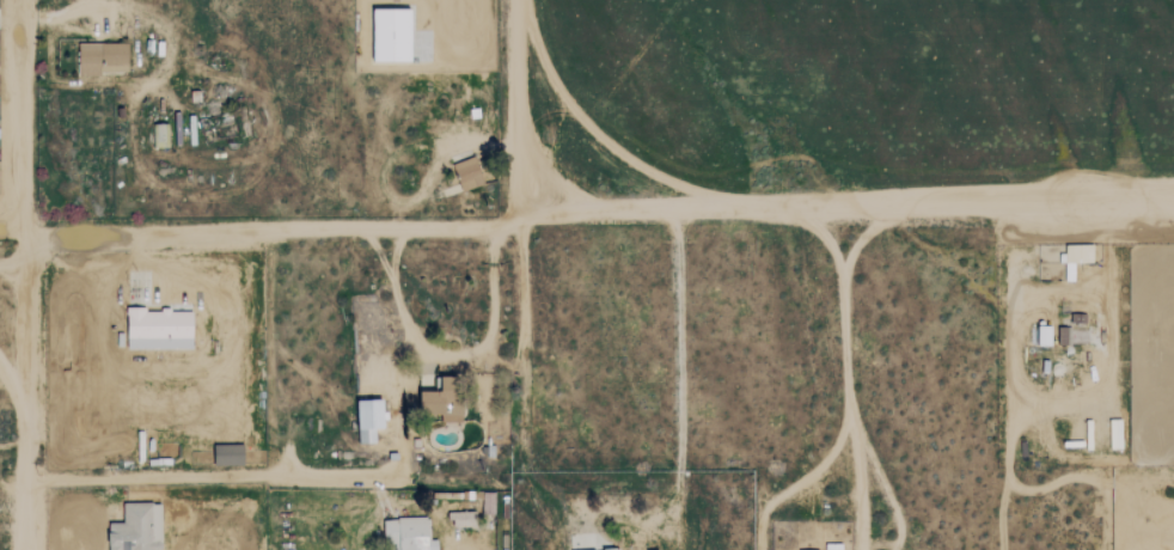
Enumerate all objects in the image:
road: (104, 7)
building: (393, 33)
building: (103, 57)
road: (527, 109)
building: (158, 134)
building: (469, 172)
road: (586, 218)
building: (1081, 253)
road: (27, 274)
road: (843, 280)
building: (160, 324)
building: (1045, 335)
road: (448, 353)
road: (1017, 368)
road: (680, 383)
road: (395, 407)
road: (850, 416)
building: (371, 418)
building: (1115, 434)
building: (230, 454)
road: (296, 473)
road: (802, 479)
building: (465, 518)
building: (137, 527)
building: (411, 534)
building: (612, 549)
building: (619, 549)

